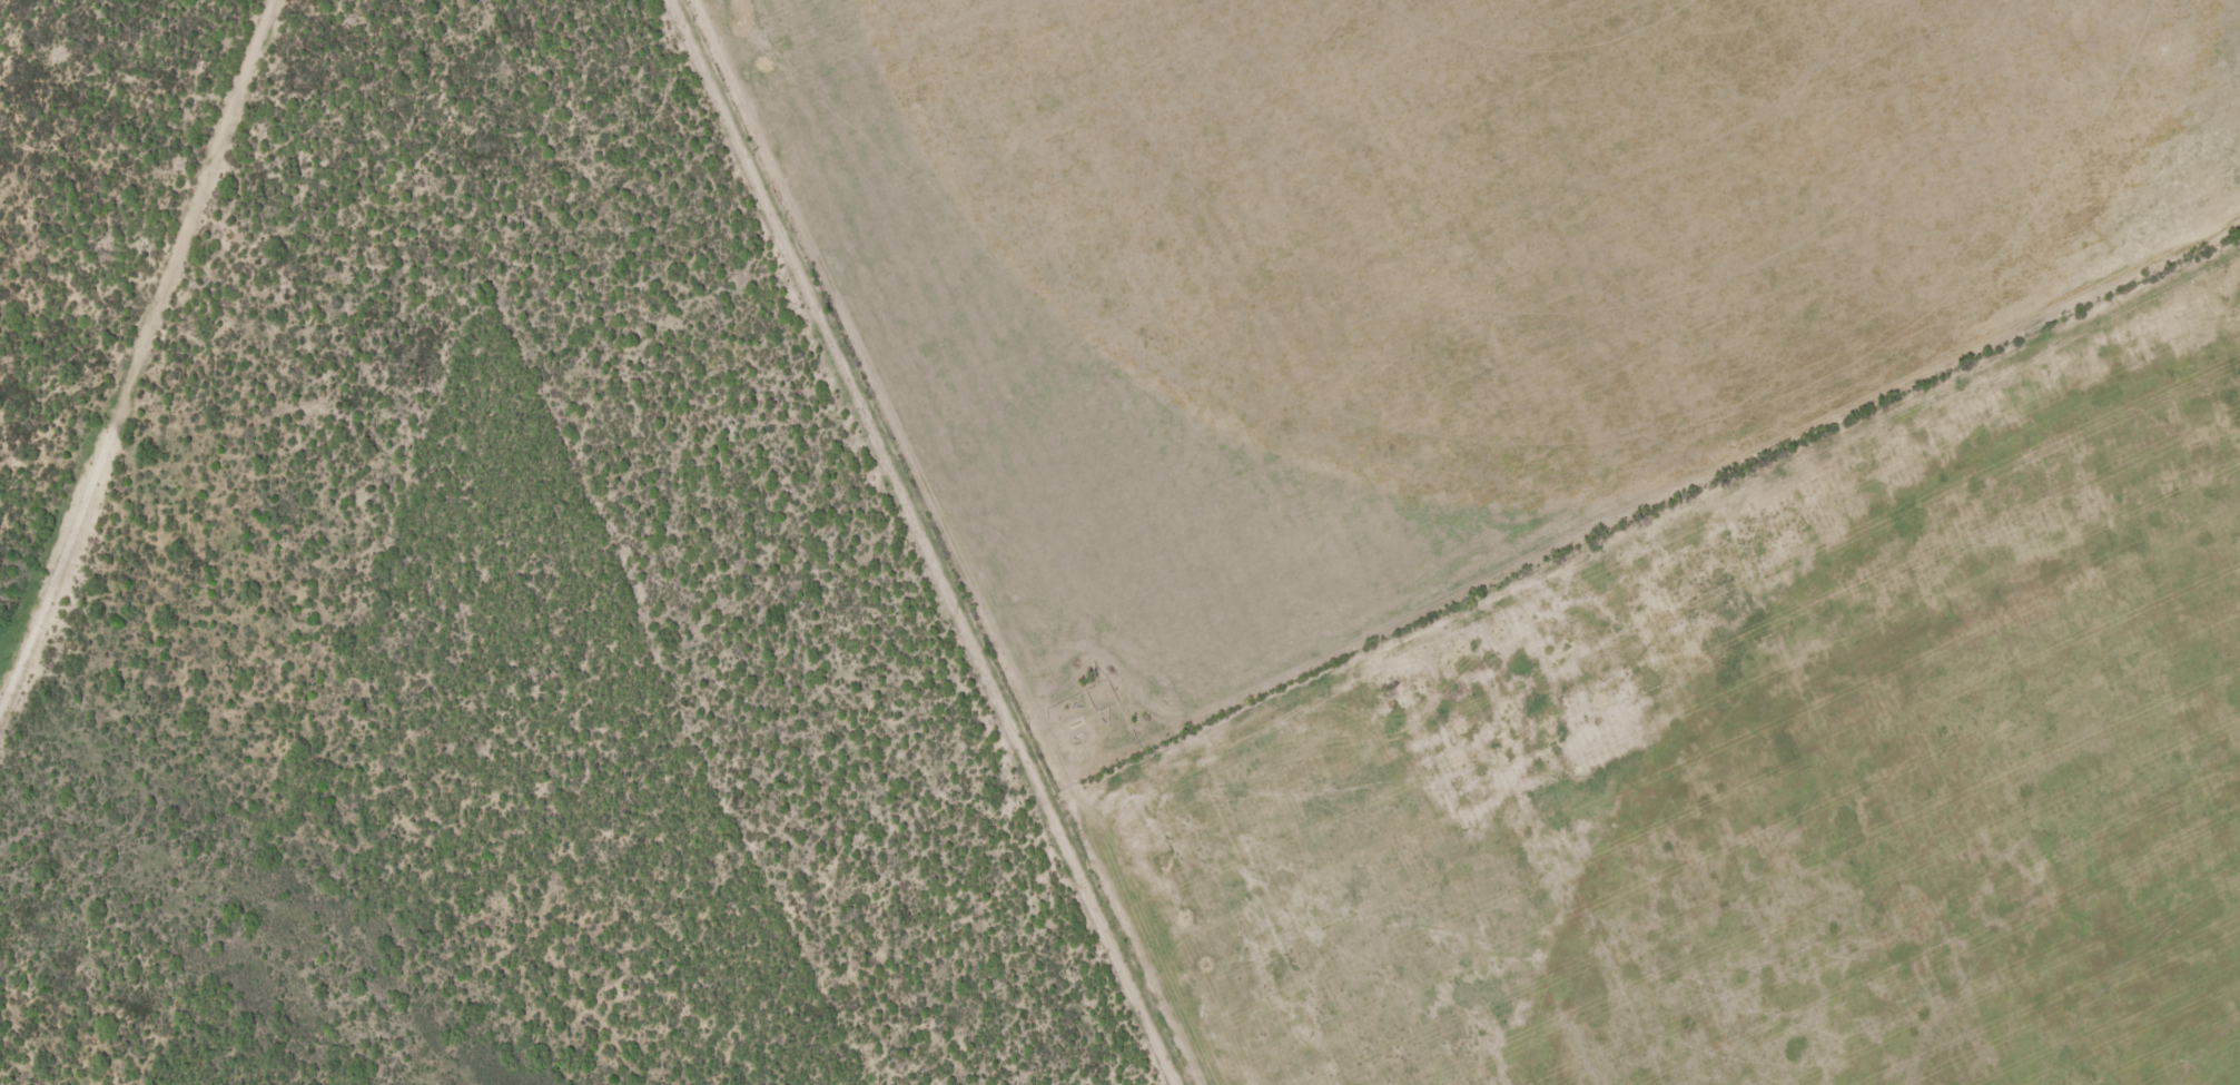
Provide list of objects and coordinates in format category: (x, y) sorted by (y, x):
road: (145, 349)
road: (955, 564)

